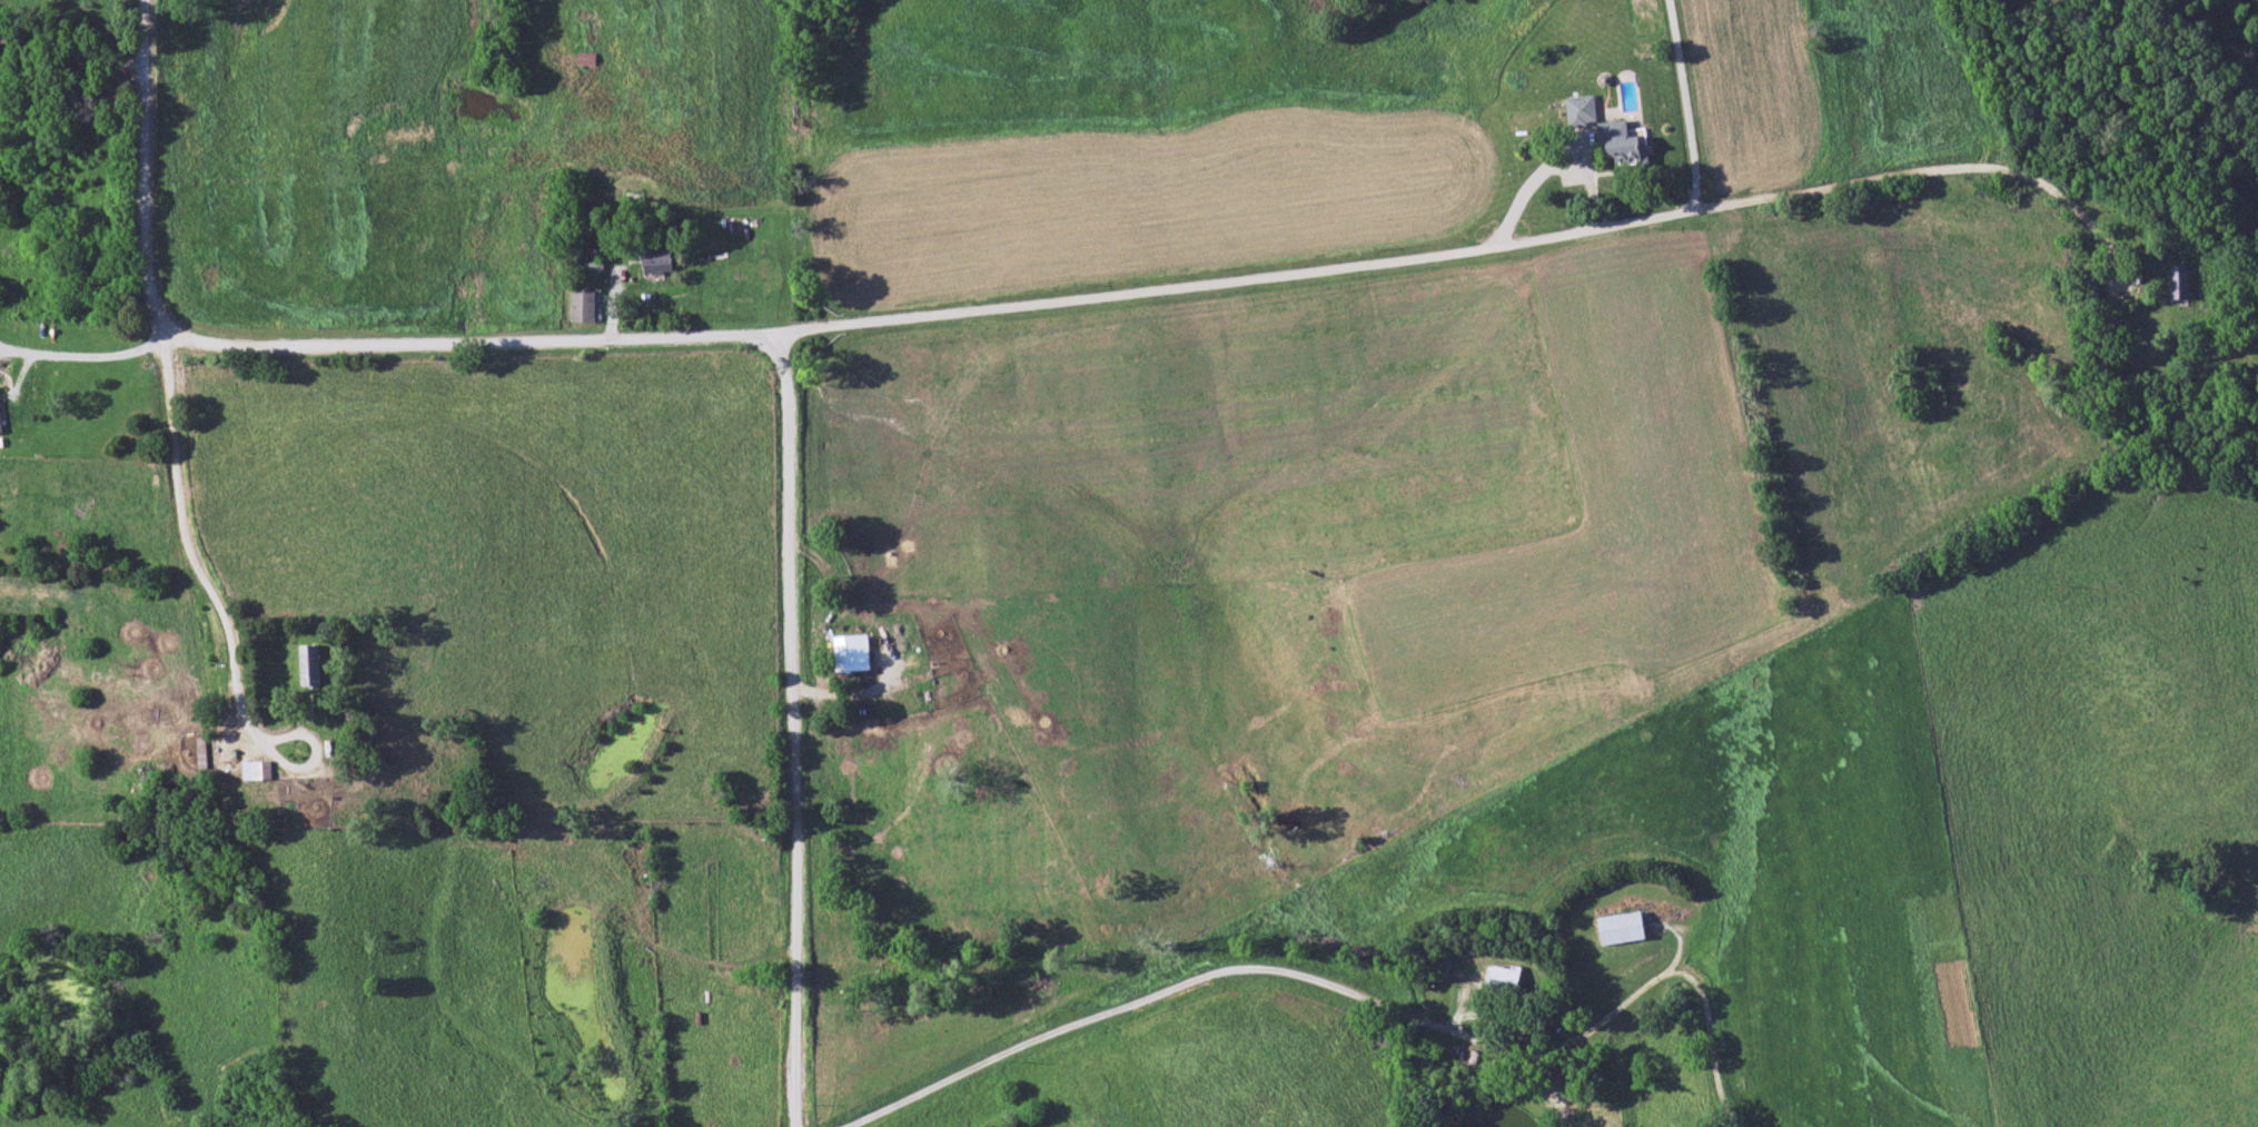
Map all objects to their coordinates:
road: (1687, 106)
building: (1579, 112)
building: (1622, 147)
road: (142, 169)
building: (2177, 285)
road: (1172, 287)
building: (2088, 295)
road: (79, 357)
road: (192, 556)
road: (791, 730)
road: (1351, 996)

